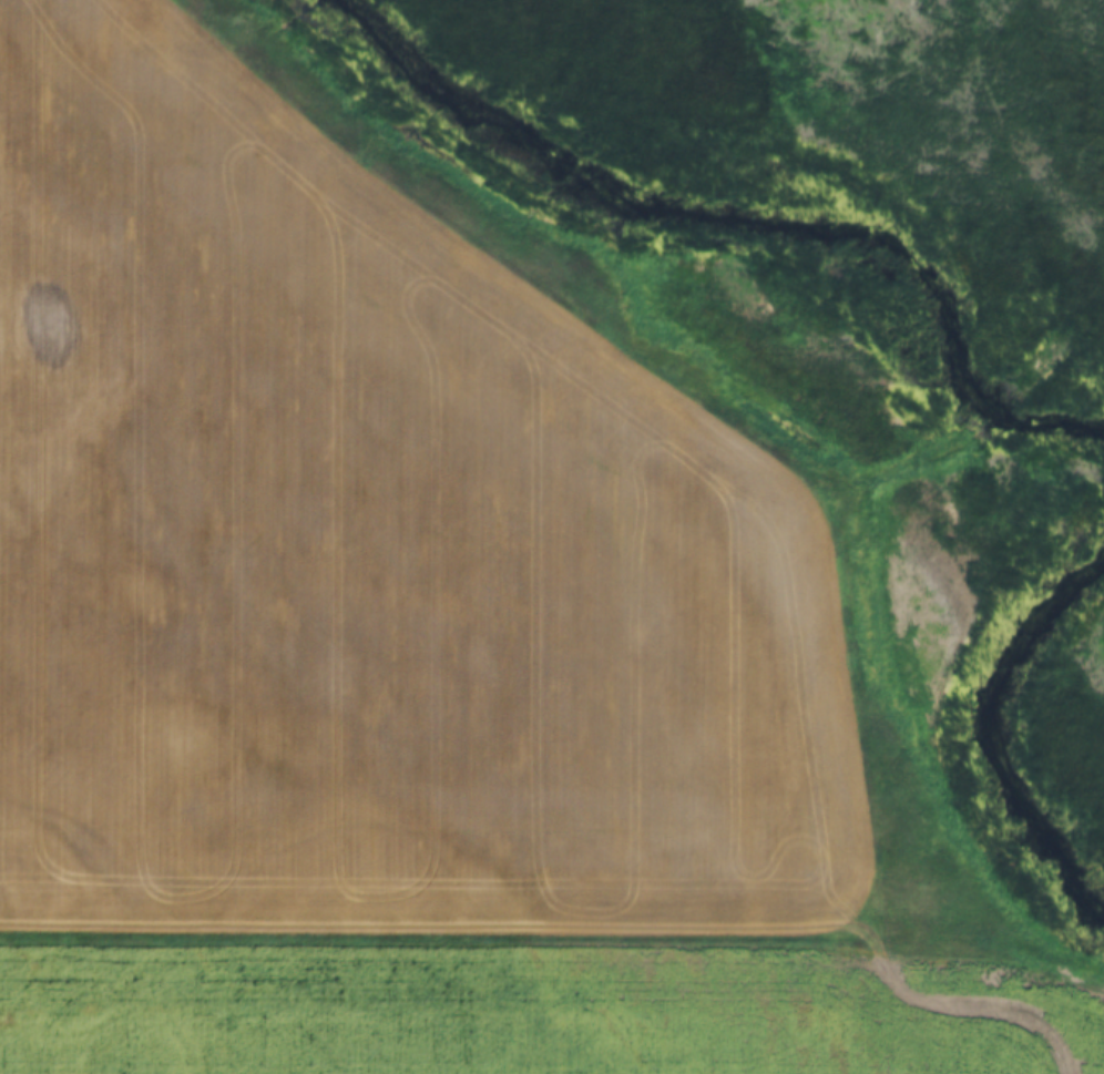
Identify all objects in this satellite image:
river: (728, 208)
river: (989, 725)

